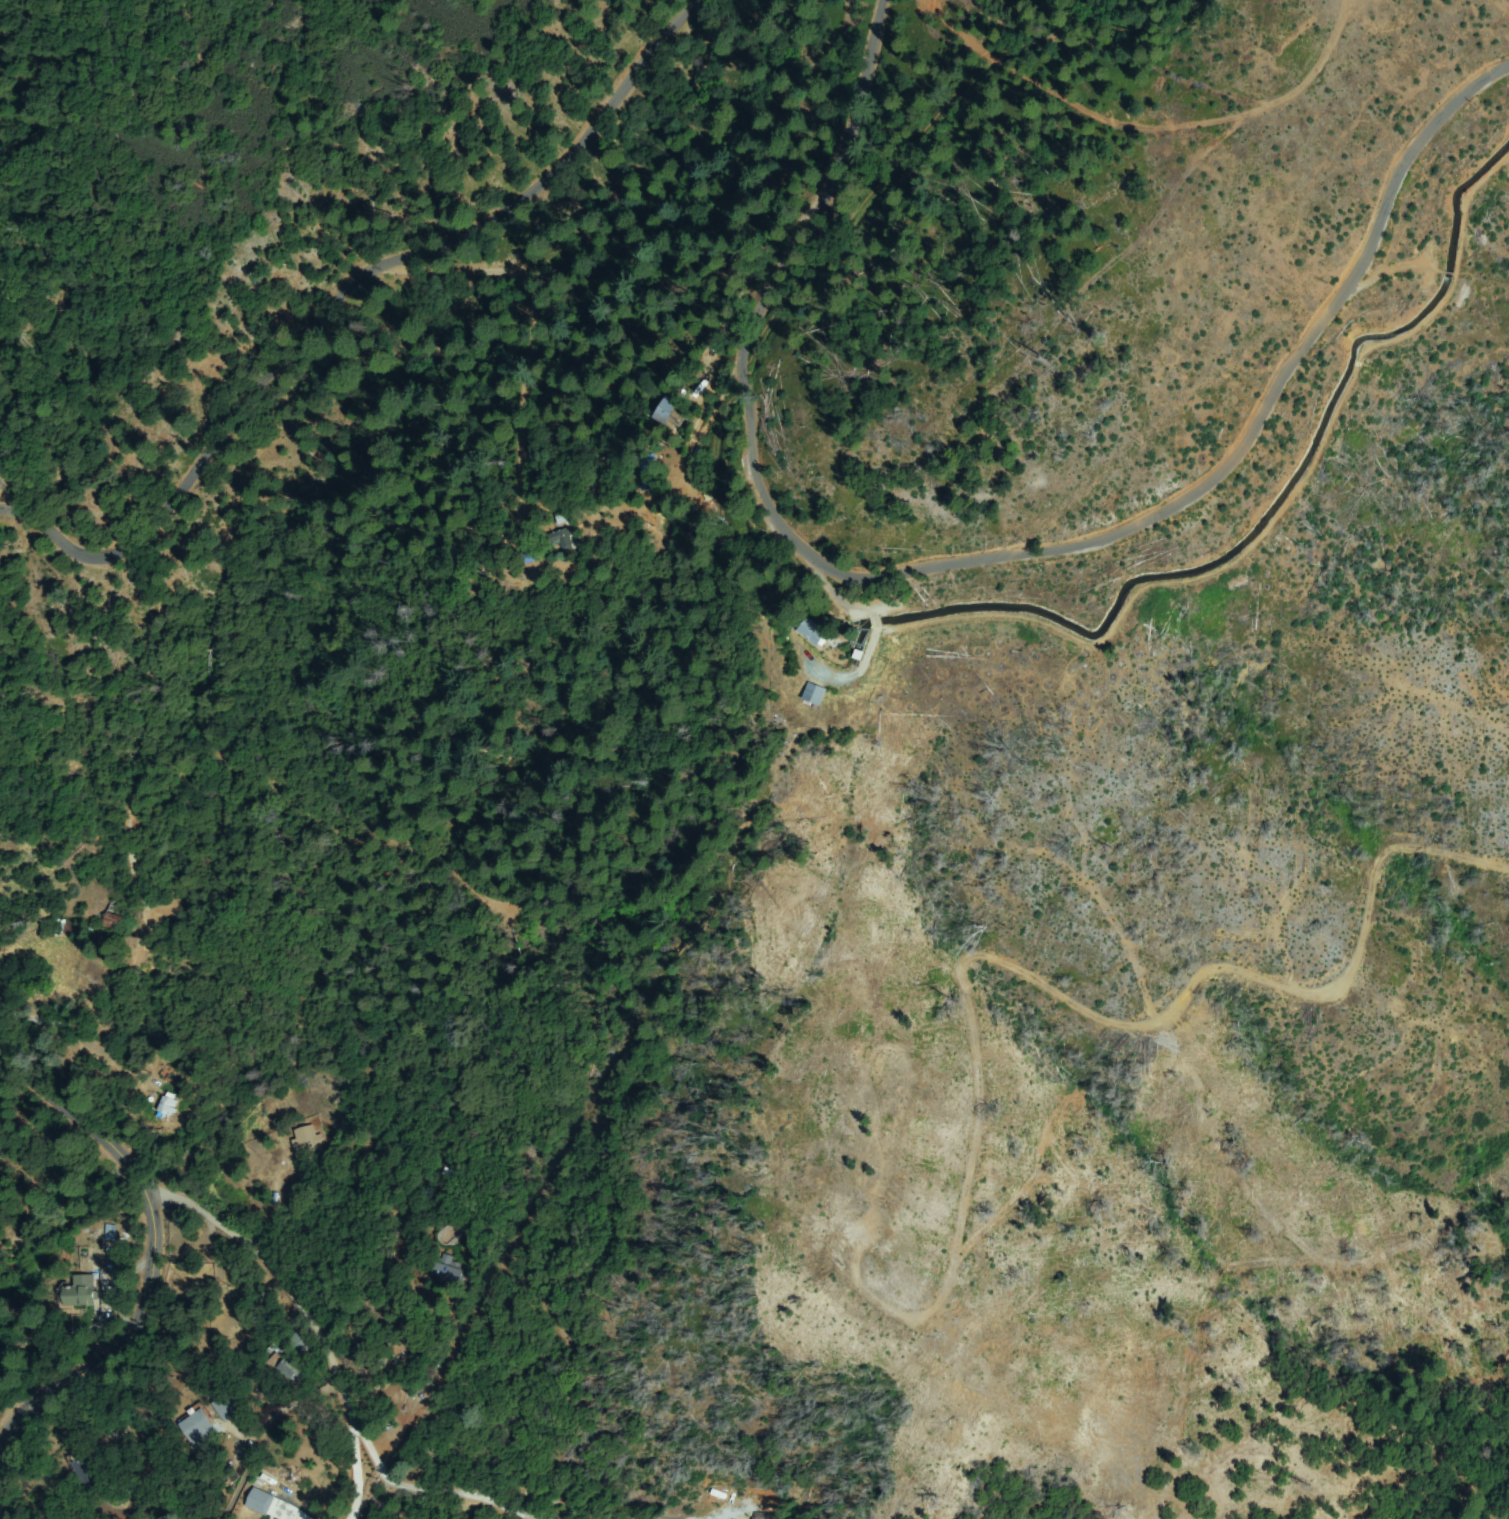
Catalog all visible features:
road: (1143, 123)
building: (737, 265)
road: (371, 330)
building: (667, 413)
building: (648, 473)
building: (562, 538)
road: (982, 545)
building: (810, 632)
building: (858, 654)
building: (814, 694)
building: (112, 920)
building: (70, 928)
building: (167, 1104)
building: (305, 1143)
building: (450, 1155)
building: (107, 1232)
road: (147, 1255)
building: (448, 1272)
building: (78, 1292)
building: (296, 1344)
building: (288, 1366)
building: (227, 1407)
building: (196, 1426)
building: (84, 1474)
building: (261, 1500)

